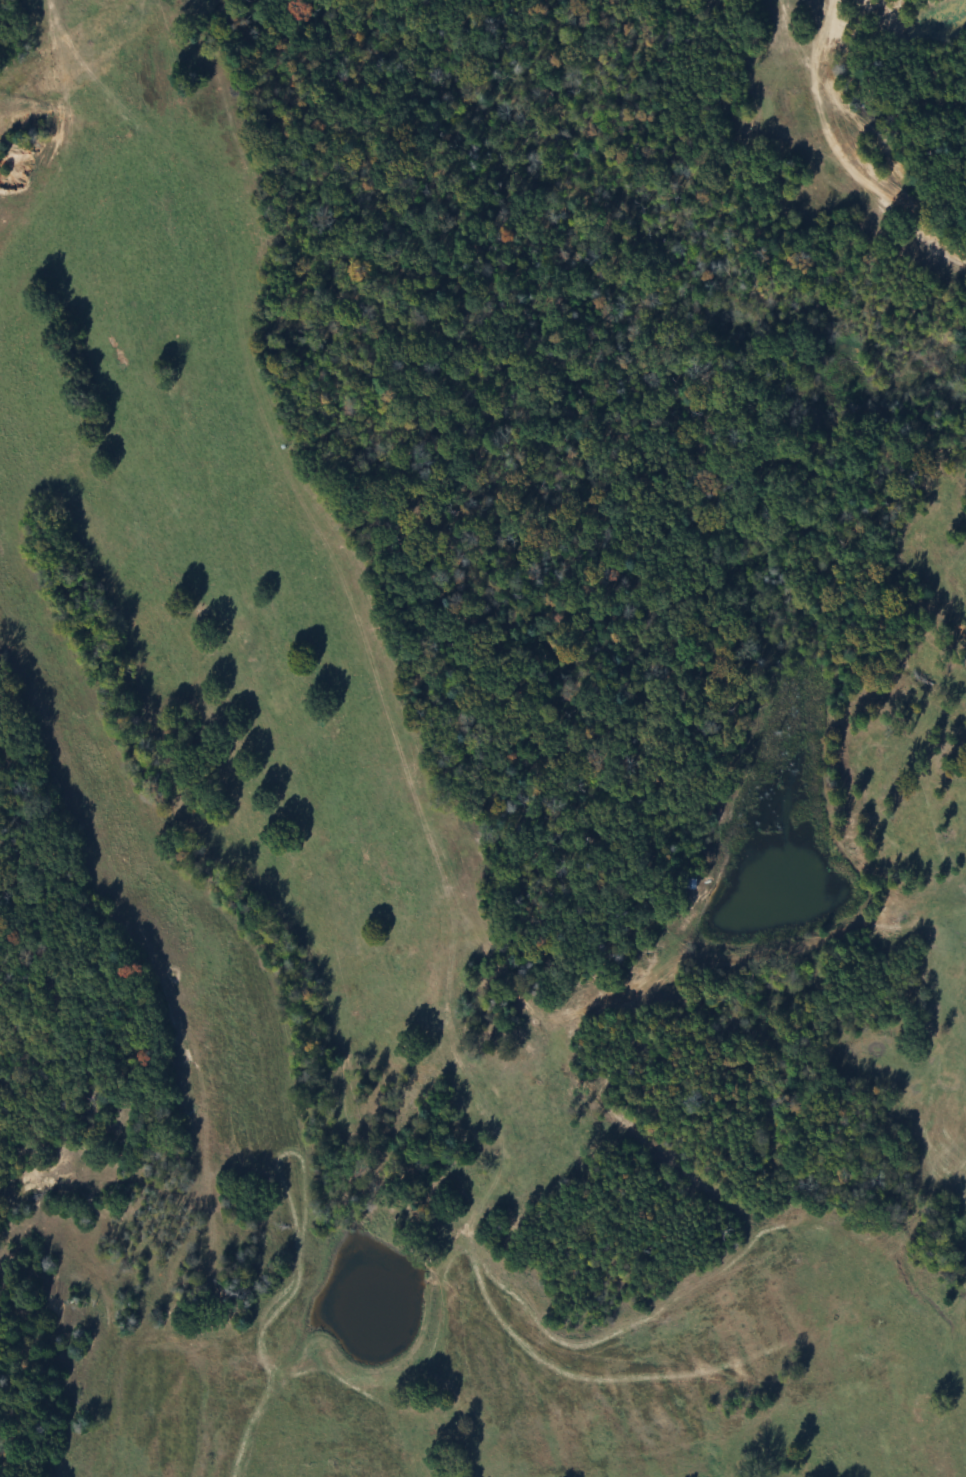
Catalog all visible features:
road: (863, 126)

